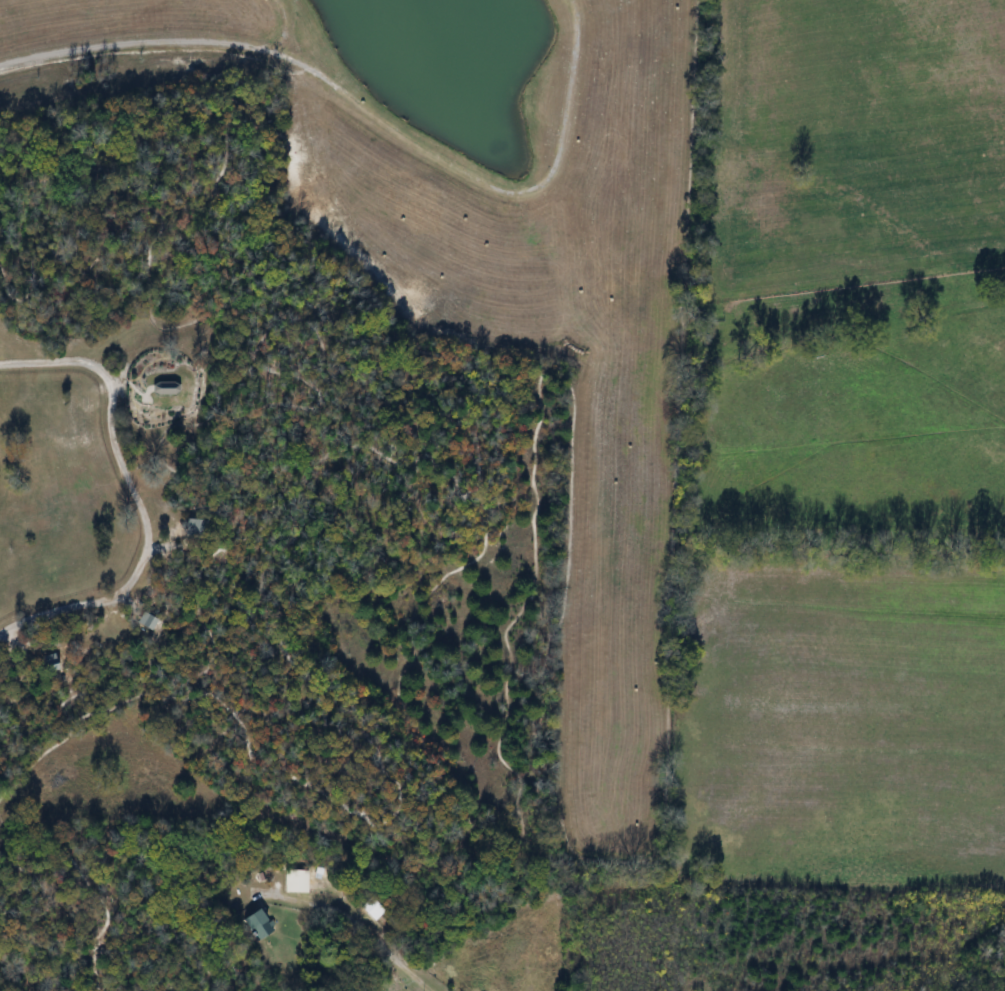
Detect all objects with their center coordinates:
road: (136, 494)
building: (299, 882)
building: (376, 909)
building: (264, 926)
road: (356, 927)

